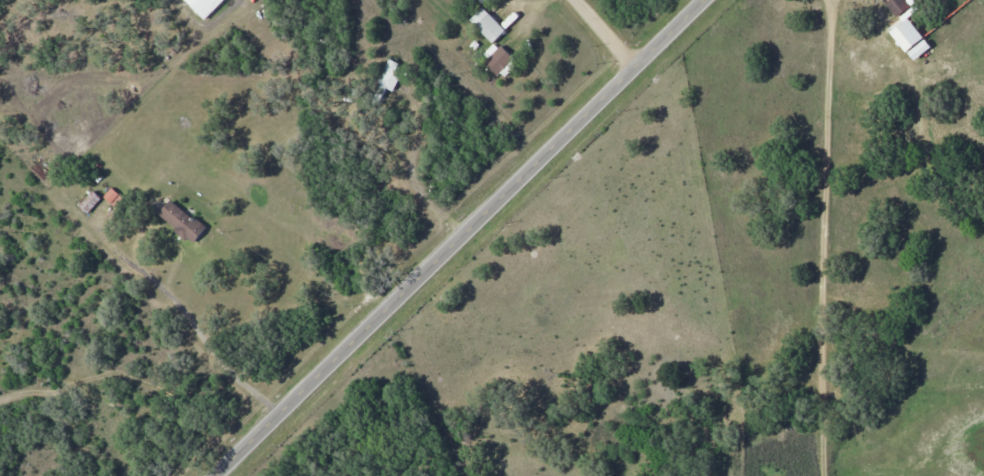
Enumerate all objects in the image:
building: (918, 0)
building: (898, 6)
building: (207, 7)
building: (488, 26)
road: (603, 35)
building: (497, 59)
building: (386, 79)
building: (90, 201)
building: (183, 222)
road: (822, 237)
road: (462, 238)

